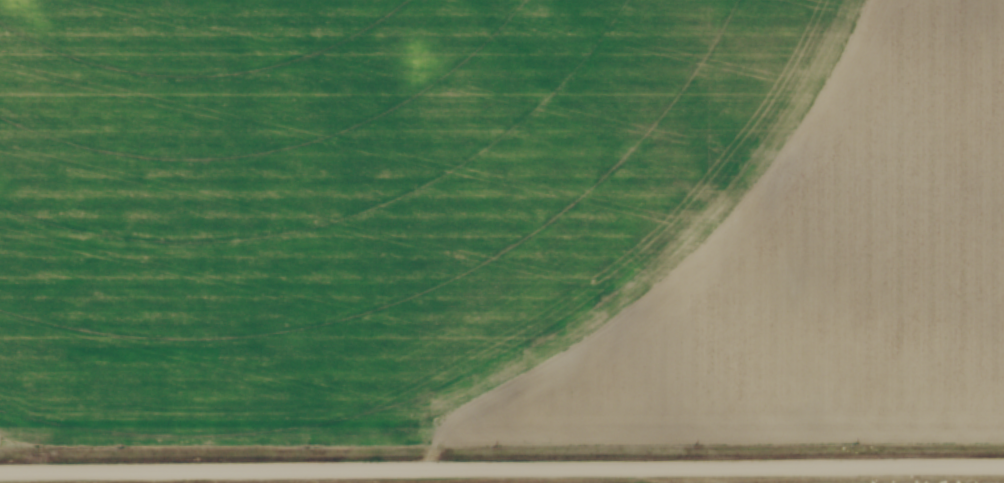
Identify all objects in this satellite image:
road: (502, 468)

